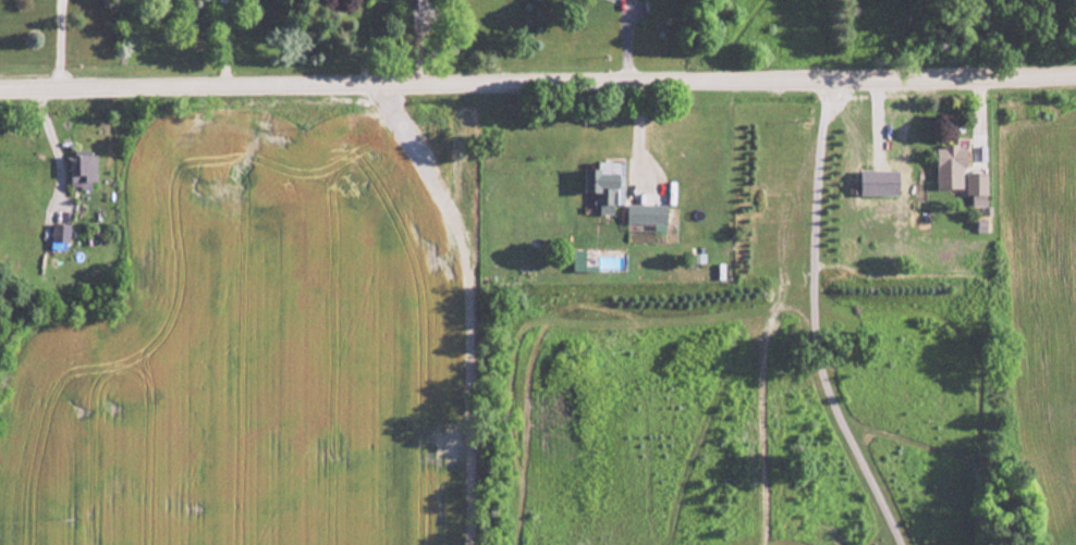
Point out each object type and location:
road: (359, 39)
road: (54, 41)
road: (538, 77)
road: (635, 135)
road: (50, 140)
building: (947, 166)
building: (81, 169)
building: (975, 187)
building: (600, 188)
building: (645, 215)
building: (59, 232)
building: (575, 262)
road: (466, 300)
road: (807, 319)

